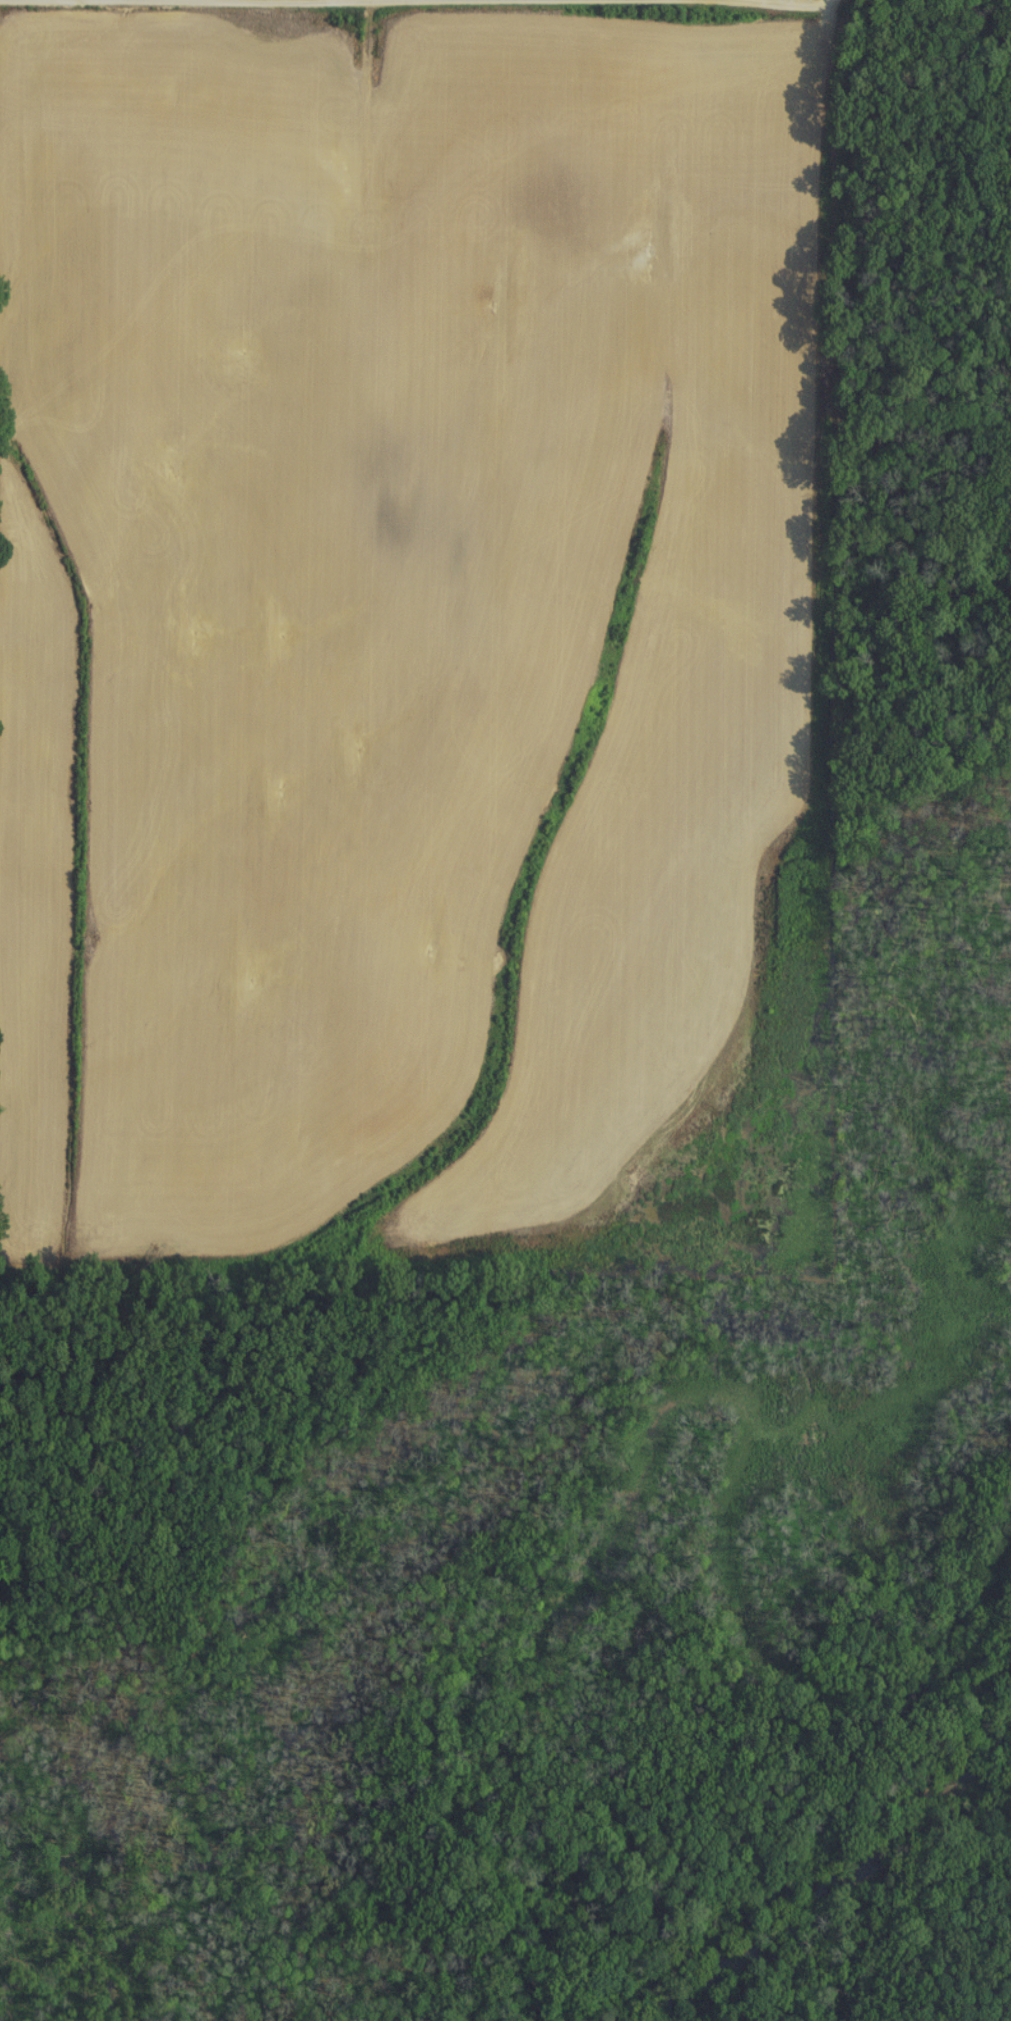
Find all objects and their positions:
road: (417, 3)

